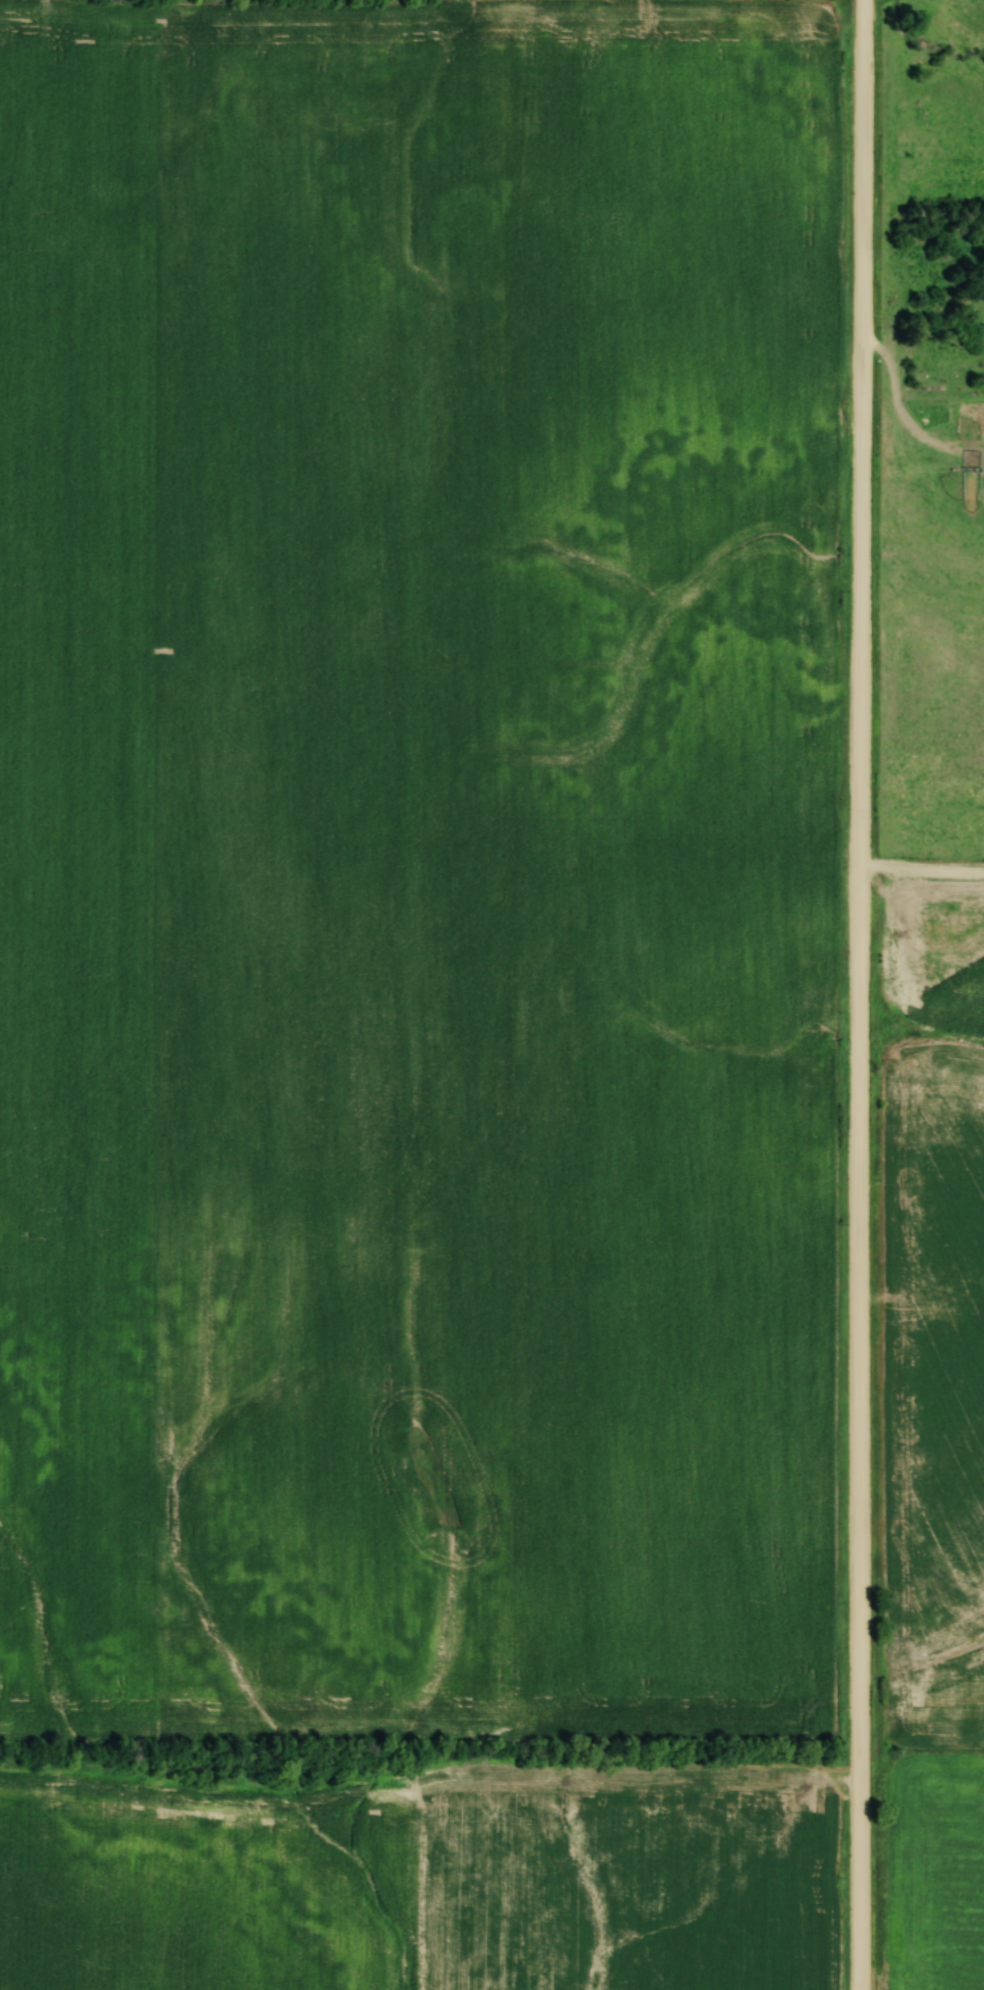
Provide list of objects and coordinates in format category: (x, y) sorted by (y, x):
road: (857, 995)

